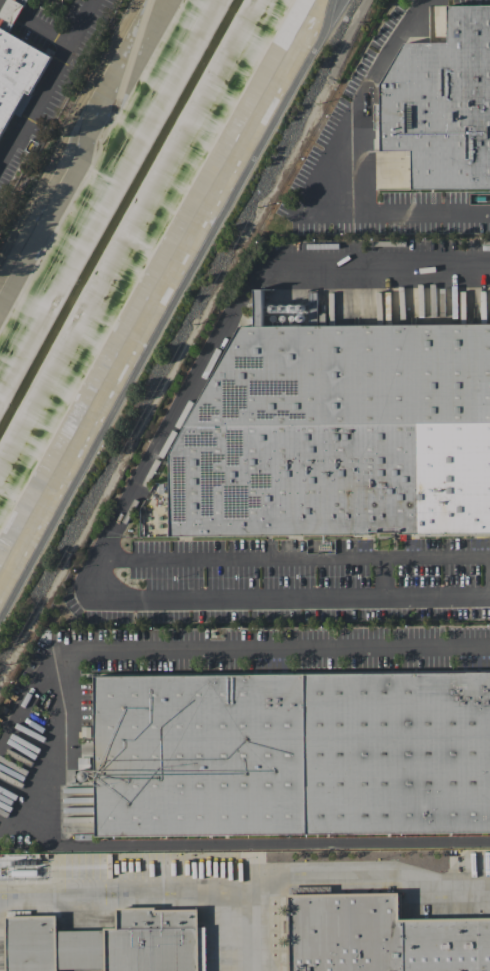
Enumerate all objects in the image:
road: (337, 13)
road: (37, 19)
building: (17, 75)
road: (47, 84)
building: (442, 103)
road: (72, 133)
road: (364, 159)
river: (119, 218)
road: (234, 308)
road: (171, 315)
building: (339, 432)
building: (154, 518)
road: (99, 555)
road: (489, 596)
building: (292, 753)
road: (41, 766)
road: (361, 877)
building: (300, 889)
road: (155, 894)
building: (380, 936)
building: (109, 942)

